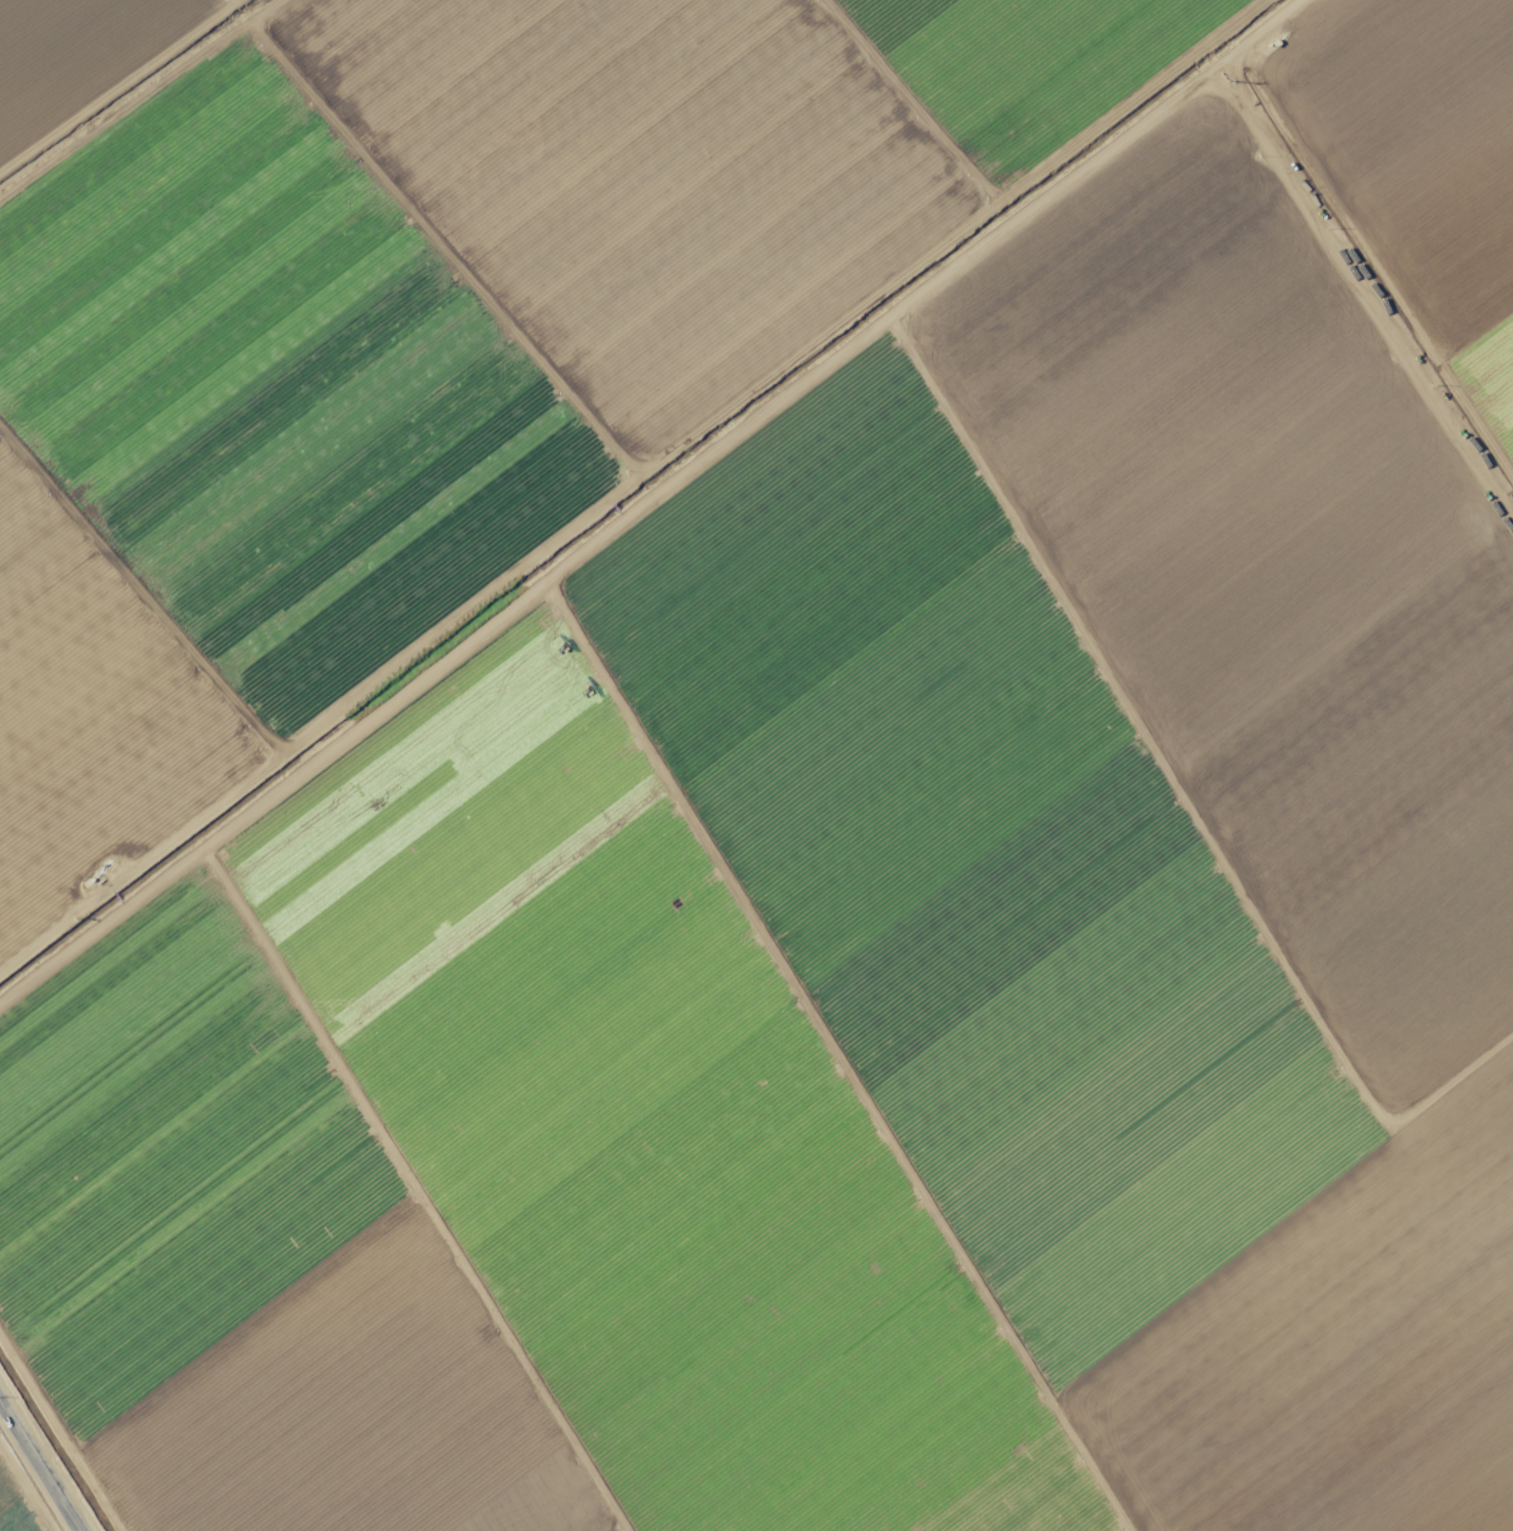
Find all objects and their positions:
road: (1355, 282)
road: (644, 501)
crop: (756, 765)
road: (38, 1468)

